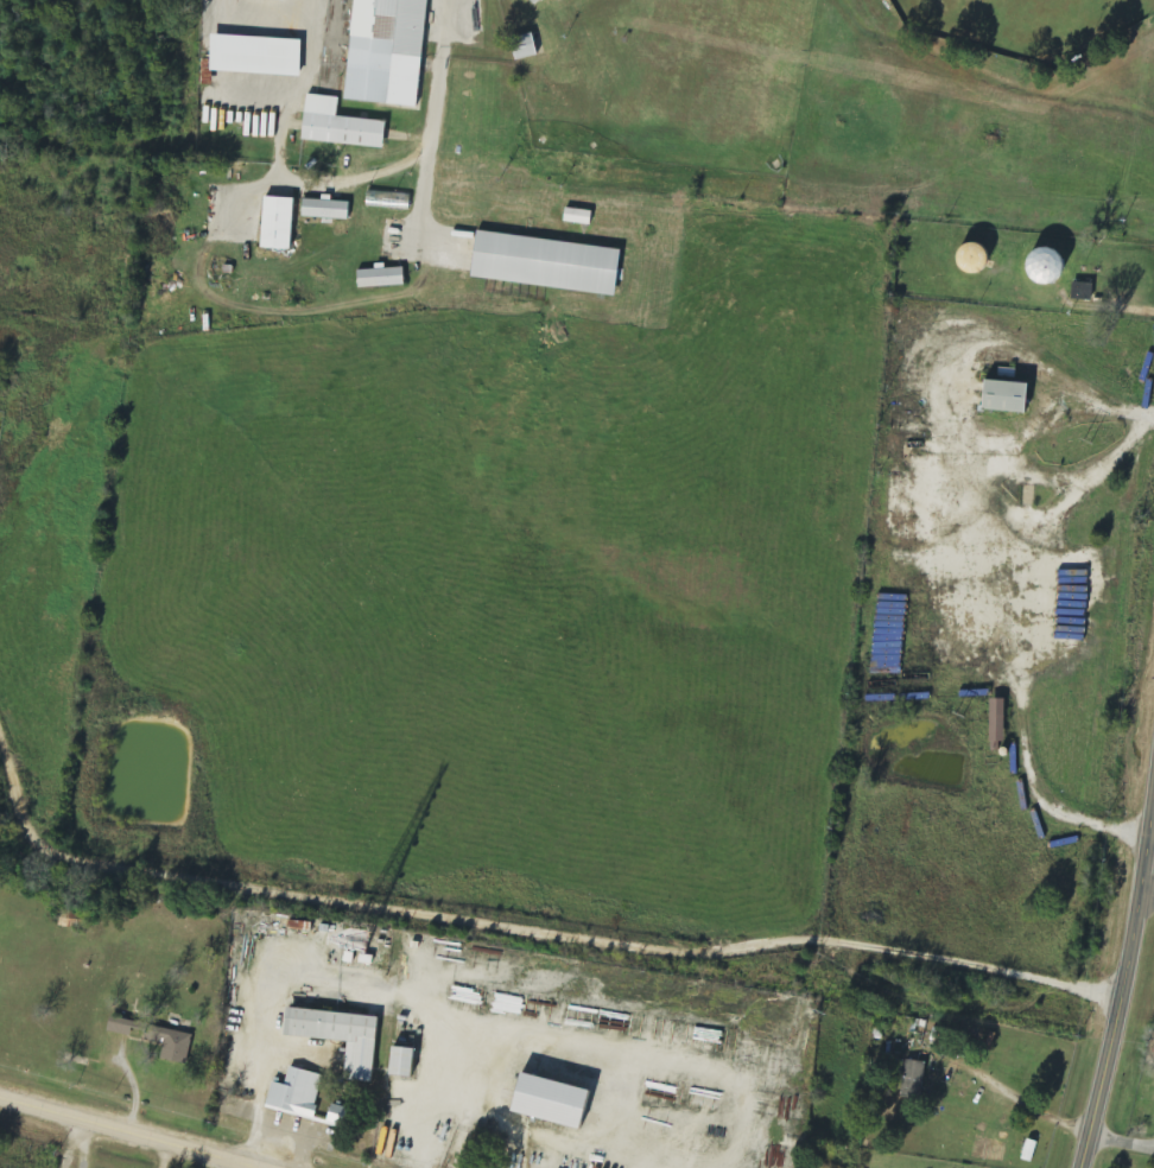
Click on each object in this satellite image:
building: (271, 0)
building: (534, 1)
building: (524, 47)
building: (386, 52)
building: (255, 56)
building: (338, 126)
building: (388, 201)
building: (326, 209)
building: (577, 217)
building: (277, 224)
building: (969, 259)
building: (545, 265)
building: (1041, 265)
building: (380, 279)
building: (1080, 291)
building: (1003, 396)
power tower: (1082, 442)
power tower: (956, 716)
building: (995, 721)
road: (1146, 899)
road: (558, 929)
road: (1123, 971)
power tower: (813, 1017)
building: (126, 1027)
building: (338, 1036)
building: (173, 1045)
building: (400, 1061)
building: (913, 1080)
building: (296, 1093)
building: (547, 1100)
road: (126, 1132)
building: (1029, 1150)

